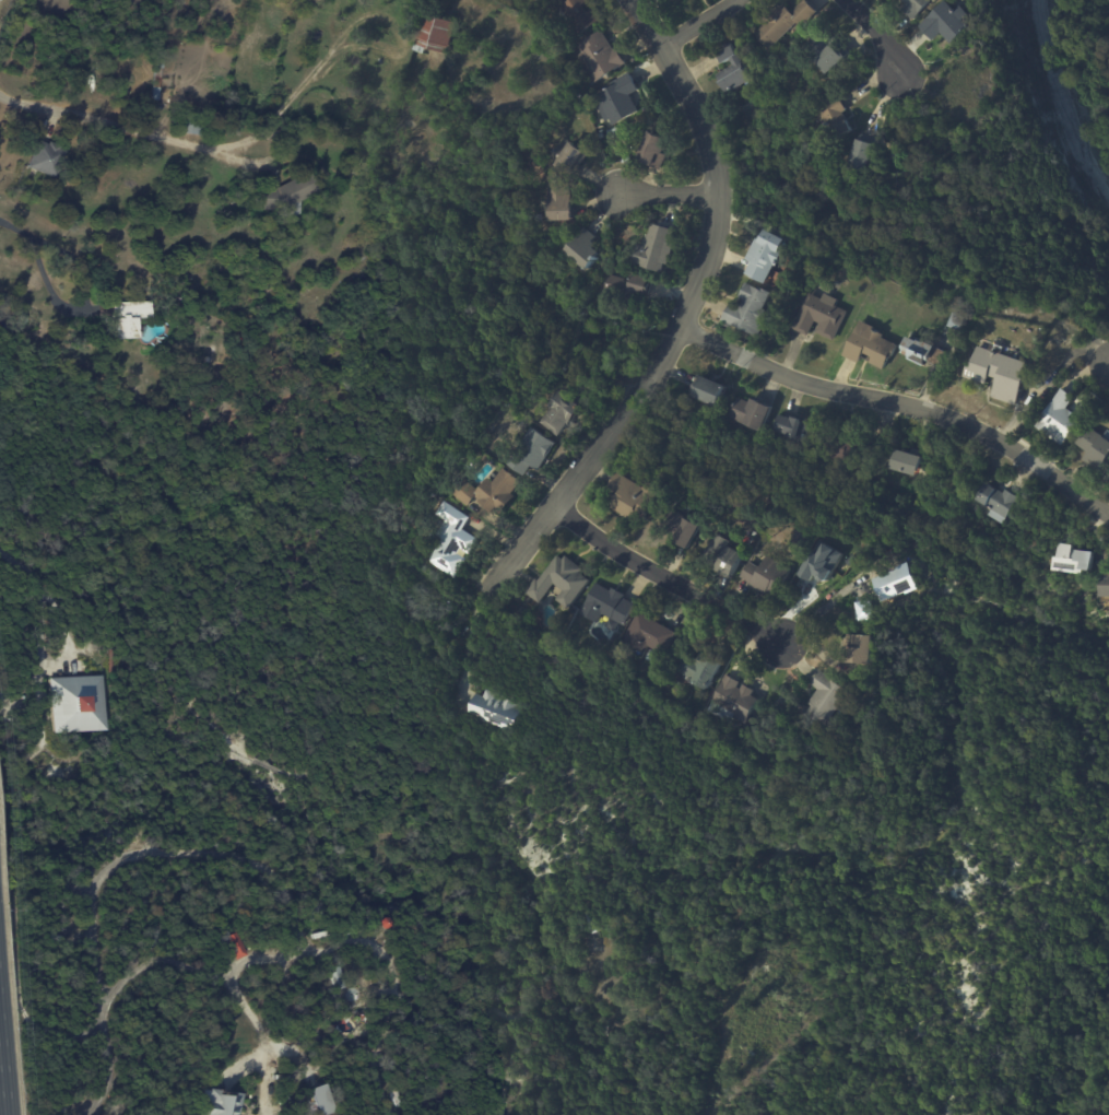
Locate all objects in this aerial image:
building: (672, 0)
building: (912, 8)
building: (573, 16)
building: (783, 23)
road: (707, 24)
building: (944, 24)
road: (881, 32)
building: (433, 34)
building: (827, 55)
building: (598, 57)
building: (732, 68)
building: (153, 79)
building: (616, 101)
building: (835, 119)
building: (189, 126)
building: (614, 132)
road: (192, 144)
building: (652, 151)
building: (569, 155)
building: (43, 157)
building: (863, 162)
road: (676, 191)
building: (283, 195)
building: (557, 200)
road: (15, 227)
building: (653, 248)
building: (580, 249)
building: (765, 256)
building: (625, 284)
road: (84, 302)
building: (748, 310)
road: (693, 315)
building: (818, 316)
building: (128, 317)
building: (957, 321)
building: (19, 326)
building: (870, 345)
building: (916, 351)
building: (996, 374)
building: (710, 392)
road: (904, 409)
building: (558, 413)
building: (751, 413)
building: (1058, 419)
building: (790, 430)
building: (837, 448)
building: (1095, 448)
building: (532, 449)
building: (906, 463)
building: (493, 492)
building: (630, 497)
building: (995, 504)
building: (680, 529)
building: (754, 533)
building: (800, 538)
building: (448, 540)
building: (747, 541)
building: (722, 559)
building: (1072, 560)
building: (765, 576)
road: (668, 578)
building: (559, 583)
building: (894, 585)
building: (1104, 586)
road: (48, 594)
building: (606, 607)
road: (821, 610)
building: (862, 612)
building: (647, 635)
road: (467, 638)
building: (859, 650)
building: (700, 671)
building: (649, 686)
building: (734, 699)
building: (823, 699)
building: (492, 712)
building: (85, 716)
road: (205, 856)
building: (310, 916)
building: (586, 922)
building: (384, 924)
building: (339, 928)
building: (152, 937)
building: (232, 947)
building: (334, 978)
building: (326, 1046)
road: (3, 1068)
building: (319, 1099)
building: (213, 1104)
building: (249, 1106)

